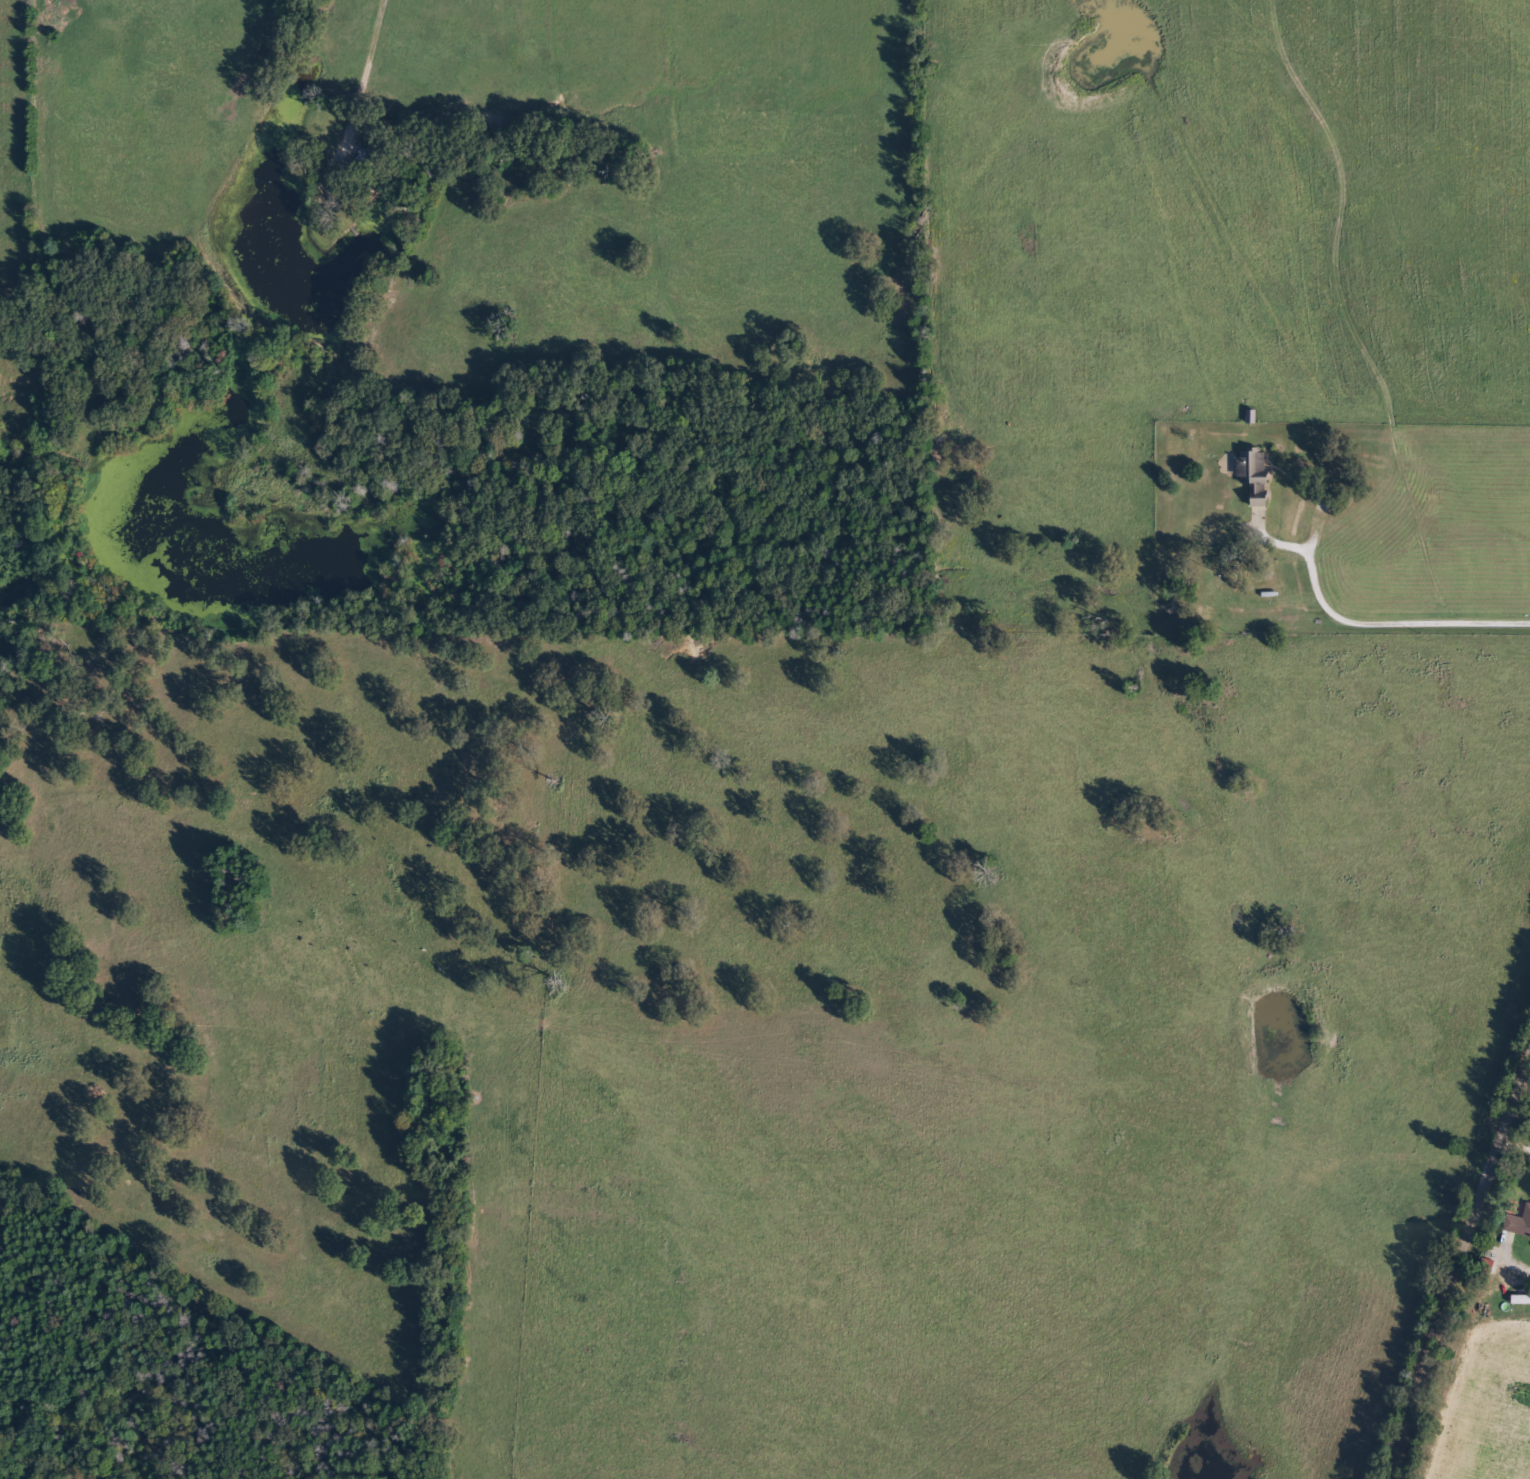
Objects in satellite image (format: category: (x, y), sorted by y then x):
building: (1256, 476)
building: (1519, 1224)
road: (1466, 1270)
building: (1521, 1300)

